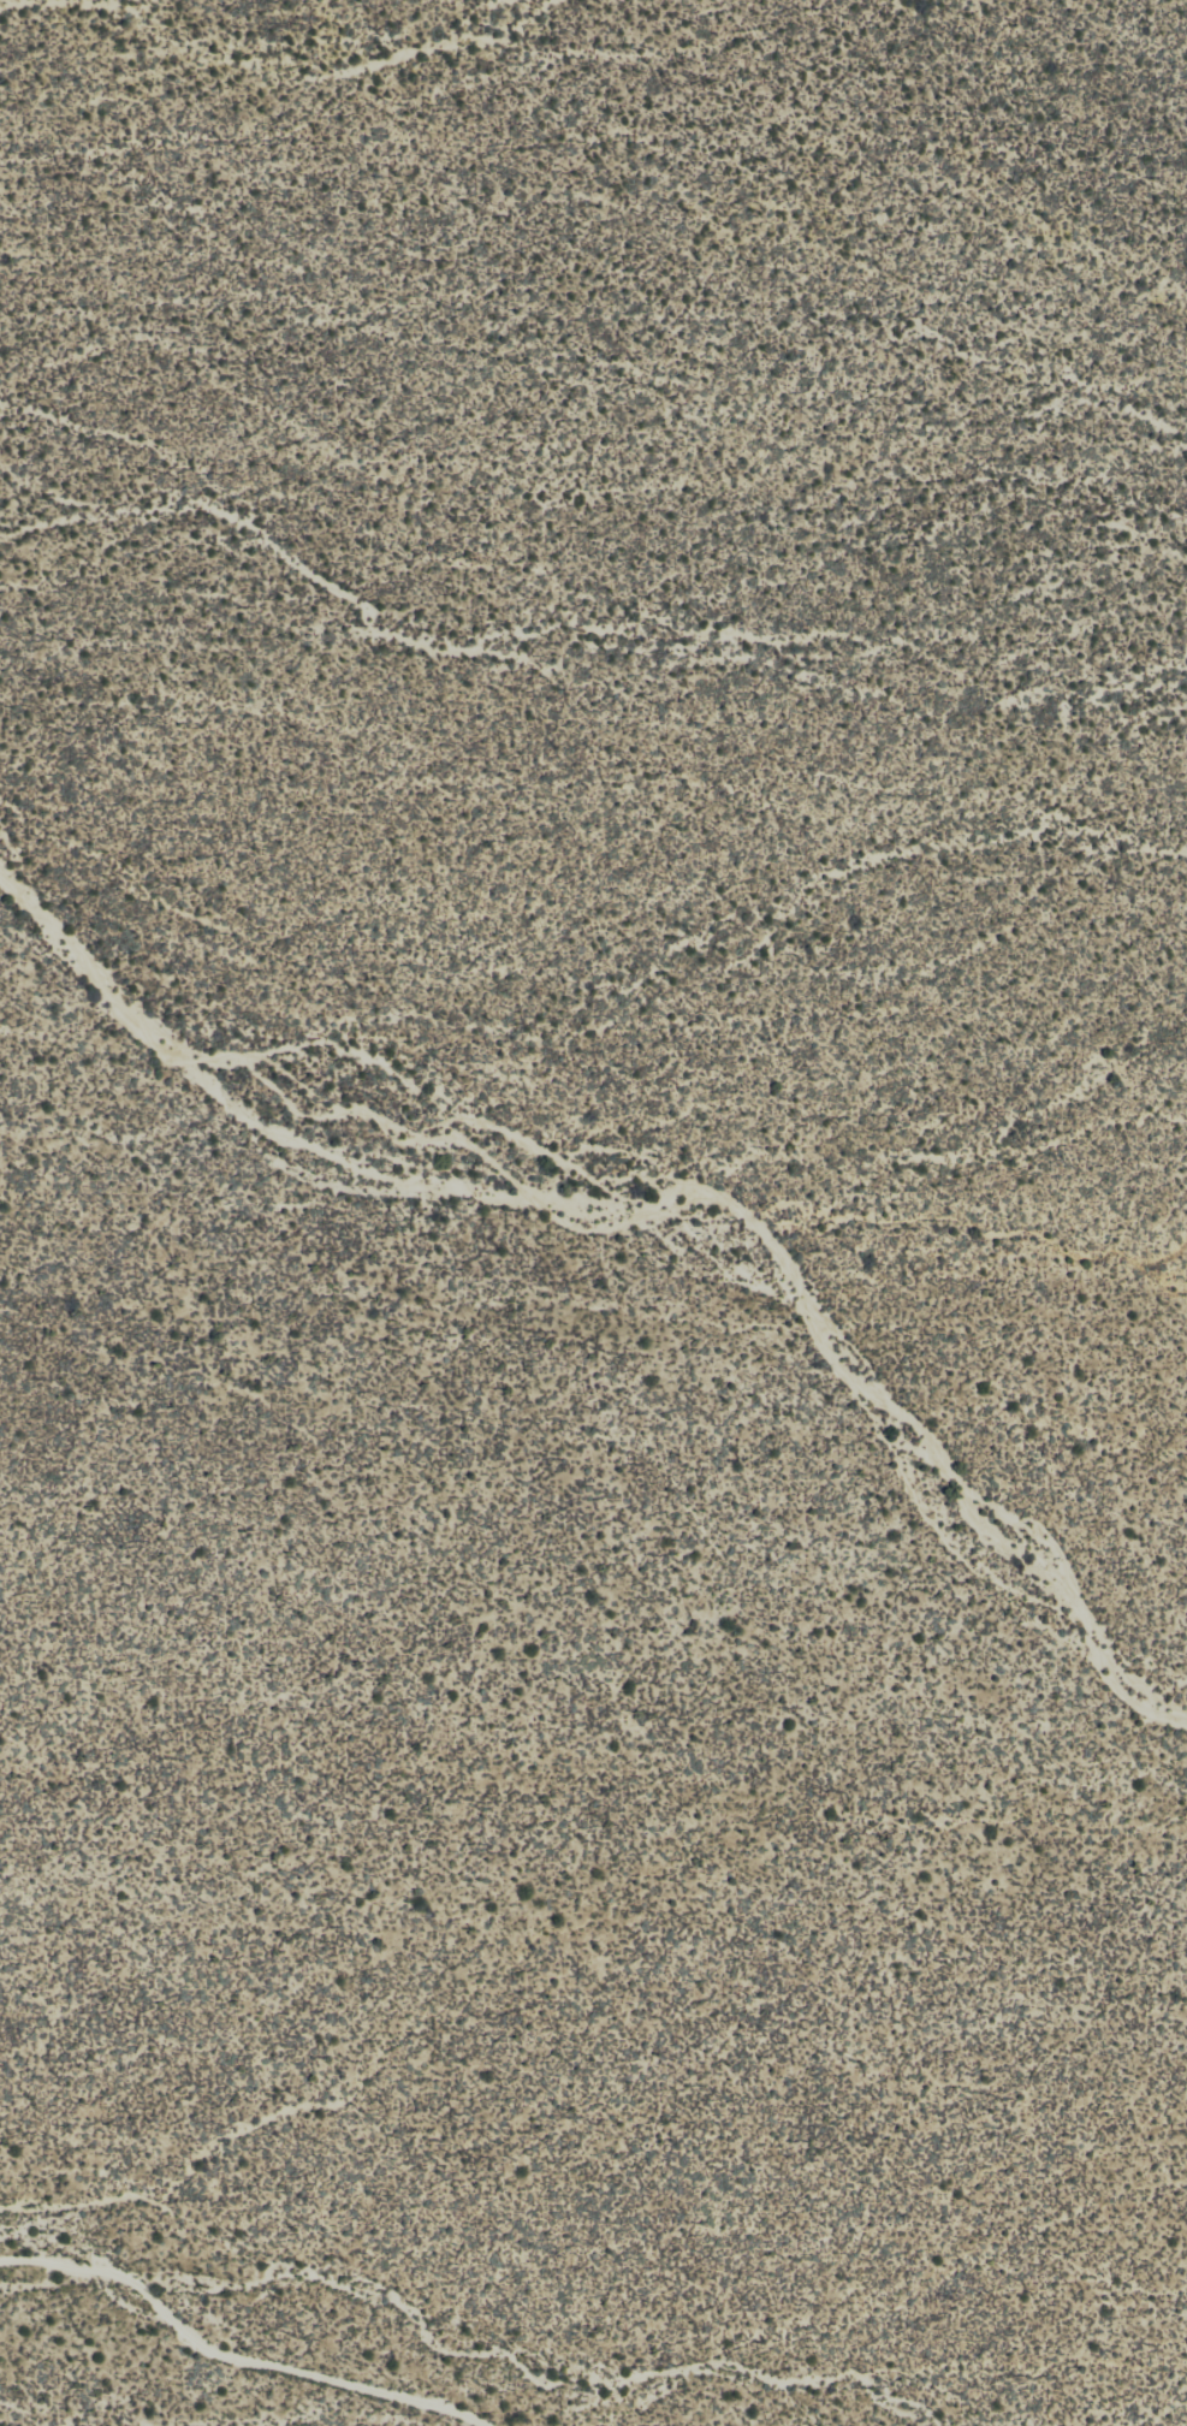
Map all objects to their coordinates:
road: (230, 2357)

